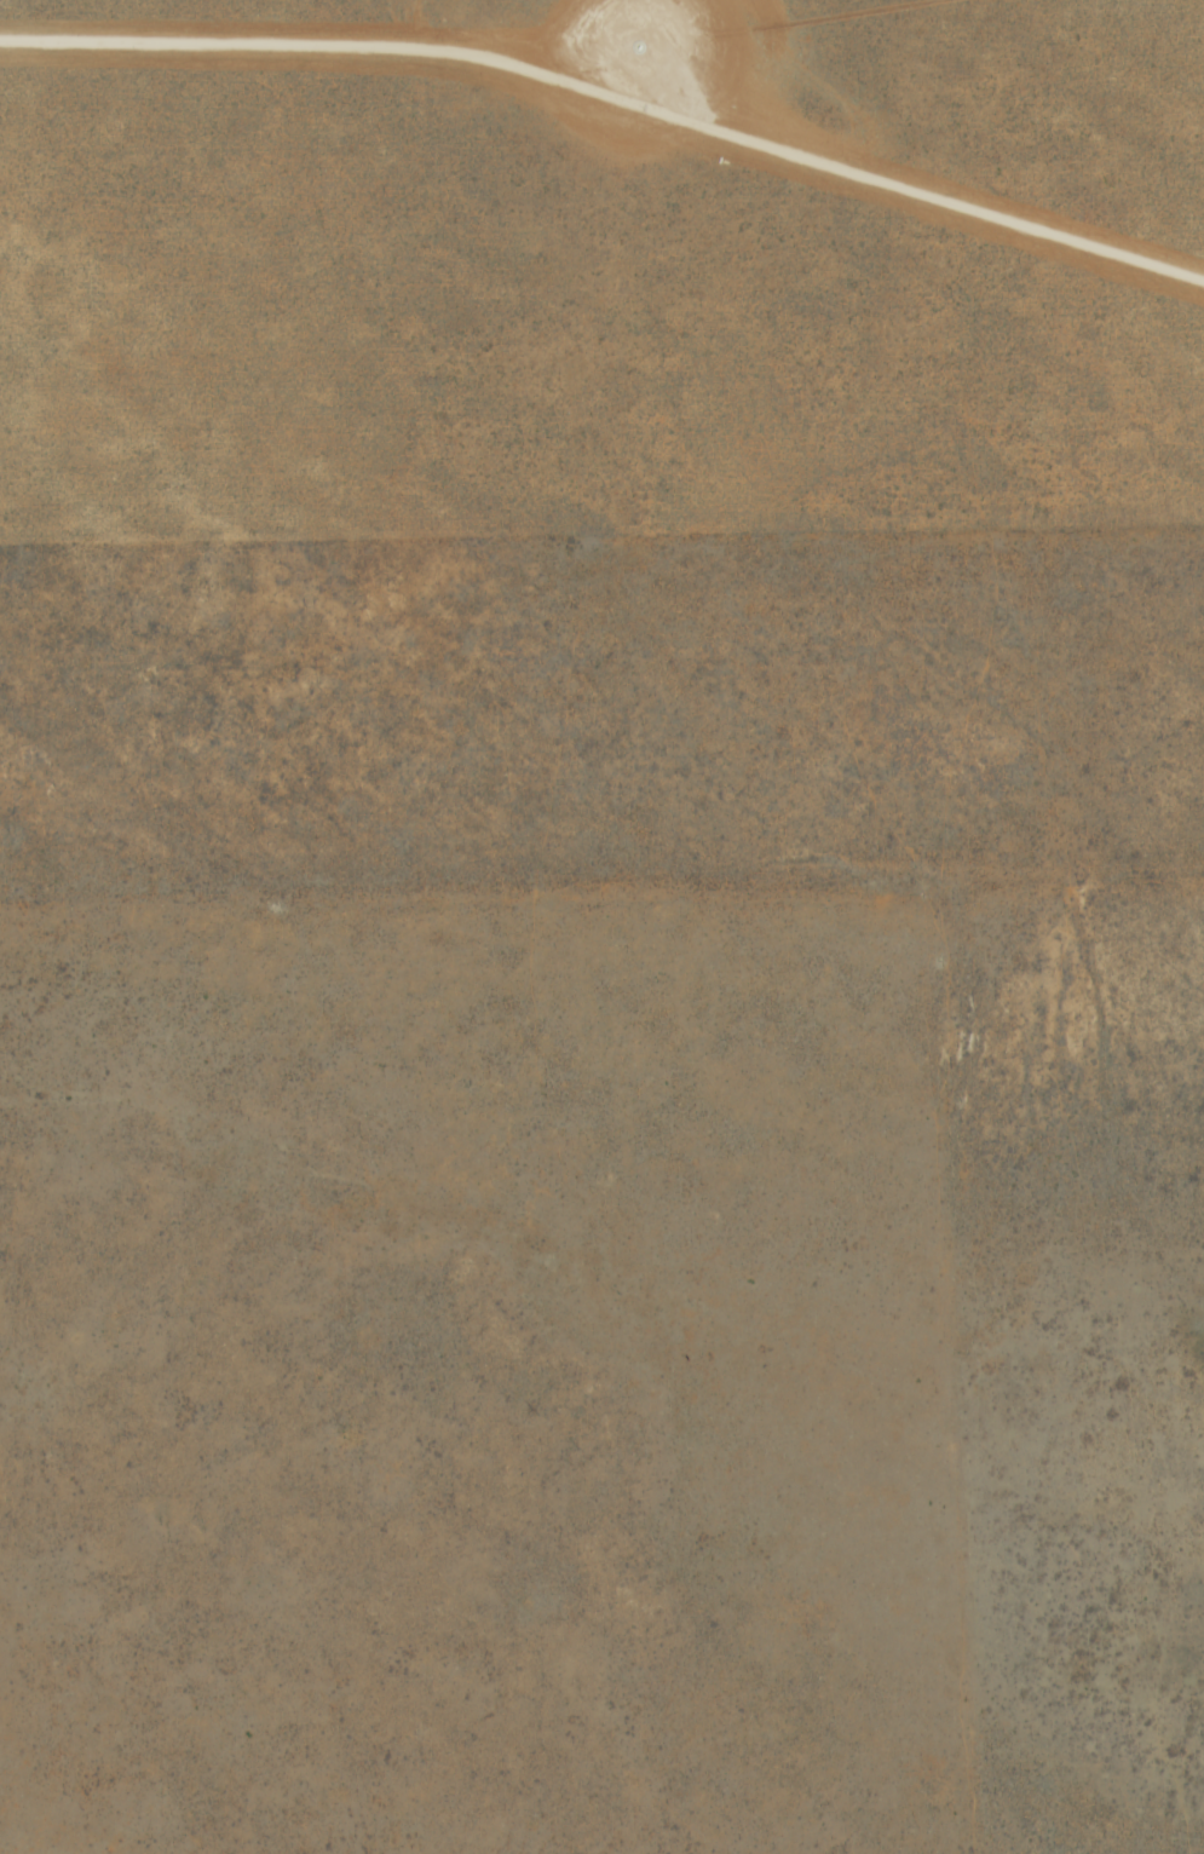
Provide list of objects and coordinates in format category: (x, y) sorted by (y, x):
wind turbine: (626, 42)

